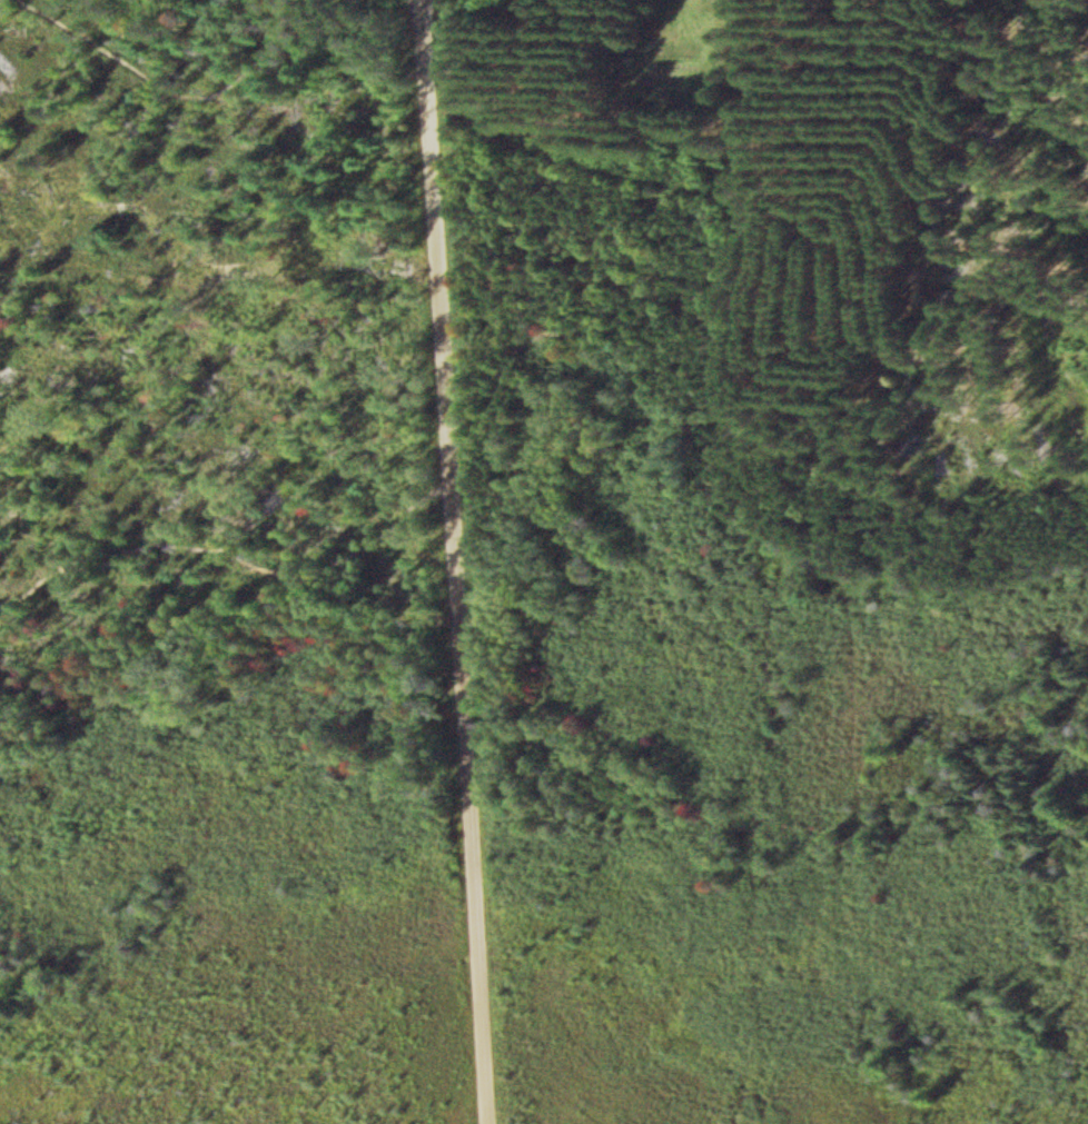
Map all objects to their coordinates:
road: (534, 70)
road: (535, 338)
road: (455, 561)

